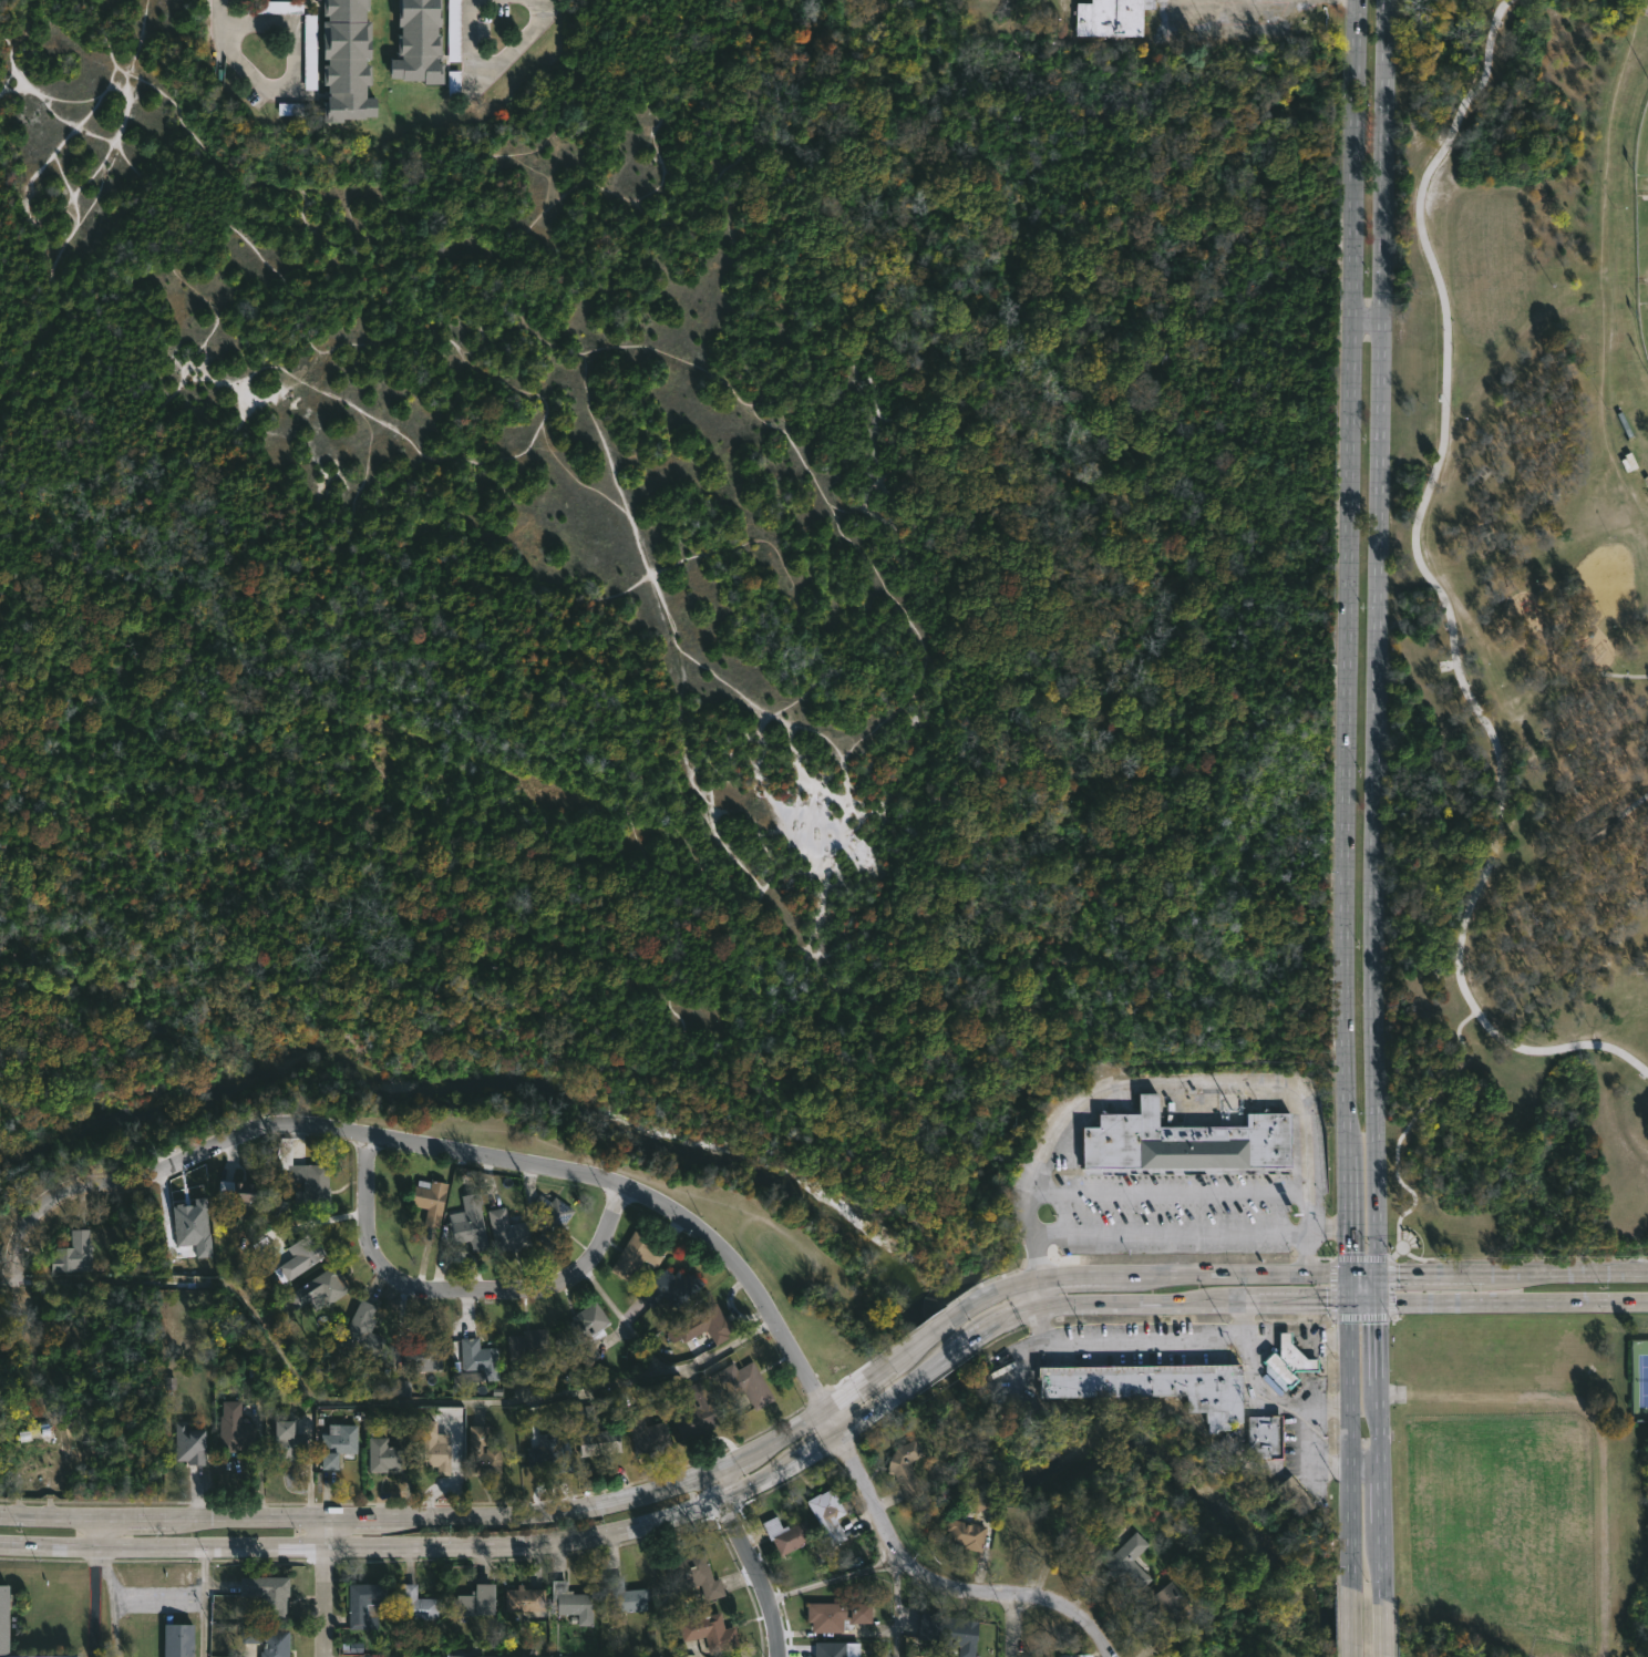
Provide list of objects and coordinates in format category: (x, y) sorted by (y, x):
road: (220, 11)
building: (1110, 18)
building: (418, 42)
building: (344, 60)
road: (495, 69)
road: (292, 74)
road: (80, 128)
park: (1641, 151)
park: (1644, 307)
road: (1364, 320)
road: (1444, 595)
park: (665, 606)
park: (1521, 631)
road: (1347, 637)
road: (1376, 637)
road: (1586, 669)
road: (1632, 803)
park: (1518, 827)
building: (1597, 828)
road: (1250, 1082)
road: (1407, 1124)
building: (1182, 1144)
road: (1042, 1165)
building: (308, 1185)
road: (639, 1191)
building: (244, 1193)
building: (430, 1201)
road: (1314, 1206)
building: (550, 1219)
building: (470, 1224)
building: (192, 1226)
road: (1328, 1227)
building: (507, 1232)
road: (1393, 1252)
building: (72, 1254)
building: (637, 1254)
road: (1359, 1256)
building: (298, 1258)
road: (1521, 1260)
road: (1567, 1272)
road: (1430, 1274)
road: (1075, 1275)
traffic signals: (1343, 1275)
road: (1358, 1275)
traffic signals: (1373, 1275)
road: (1229, 1276)
road: (1006, 1286)
road: (1390, 1286)
building: (673, 1287)
road: (1330, 1287)
building: (320, 1288)
road: (462, 1290)
road: (1039, 1293)
road: (1314, 1303)
traffic signals: (1345, 1303)
traffic signals: (1373, 1303)
road: (1360, 1318)
building: (705, 1324)
road: (933, 1329)
road: (1294, 1329)
building: (588, 1330)
building: (362, 1331)
road: (1127, 1344)
building: (526, 1350)
building: (425, 1355)
building: (477, 1356)
road: (945, 1358)
building: (1285, 1359)
building: (468, 1376)
park: (1639, 1379)
building: (743, 1382)
building: (1152, 1385)
building: (402, 1388)
road: (1273, 1401)
road: (1316, 1408)
building: (697, 1412)
building: (233, 1428)
building: (647, 1431)
road: (1347, 1431)
building: (594, 1433)
building: (1261, 1435)
road: (1379, 1437)
building: (288, 1441)
building: (32, 1442)
building: (189, 1443)
building: (336, 1444)
building: (435, 1448)
building: (549, 1450)
building: (483, 1452)
building: (384, 1454)
road: (1363, 1463)
building: (907, 1468)
park: (1528, 1483)
building: (1296, 1493)
building: (976, 1503)
building: (828, 1514)
road: (465, 1522)
road: (96, 1531)
building: (967, 1534)
building: (787, 1536)
building: (1079, 1536)
road: (474, 1550)
road: (752, 1563)
building: (1131, 1564)
building: (693, 1575)
road: (836, 1576)
road: (327, 1589)
building: (268, 1593)
building: (624, 1596)
road: (156, 1601)
building: (481, 1601)
building: (523, 1601)
road: (93, 1602)
road: (111, 1602)
road: (203, 1602)
building: (573, 1602)
building: (364, 1603)
building: (1165, 1604)
building: (420, 1605)
road: (895, 1607)
building: (836, 1615)
building: (3, 1618)
road: (1010, 1623)
road: (1350, 1623)
road: (1382, 1628)
building: (710, 1632)
building: (951, 1632)
building: (176, 1639)
building: (267, 1640)
building: (352, 1647)
building: (836, 1649)
building: (1077, 1655)
building: (38, 1656)

